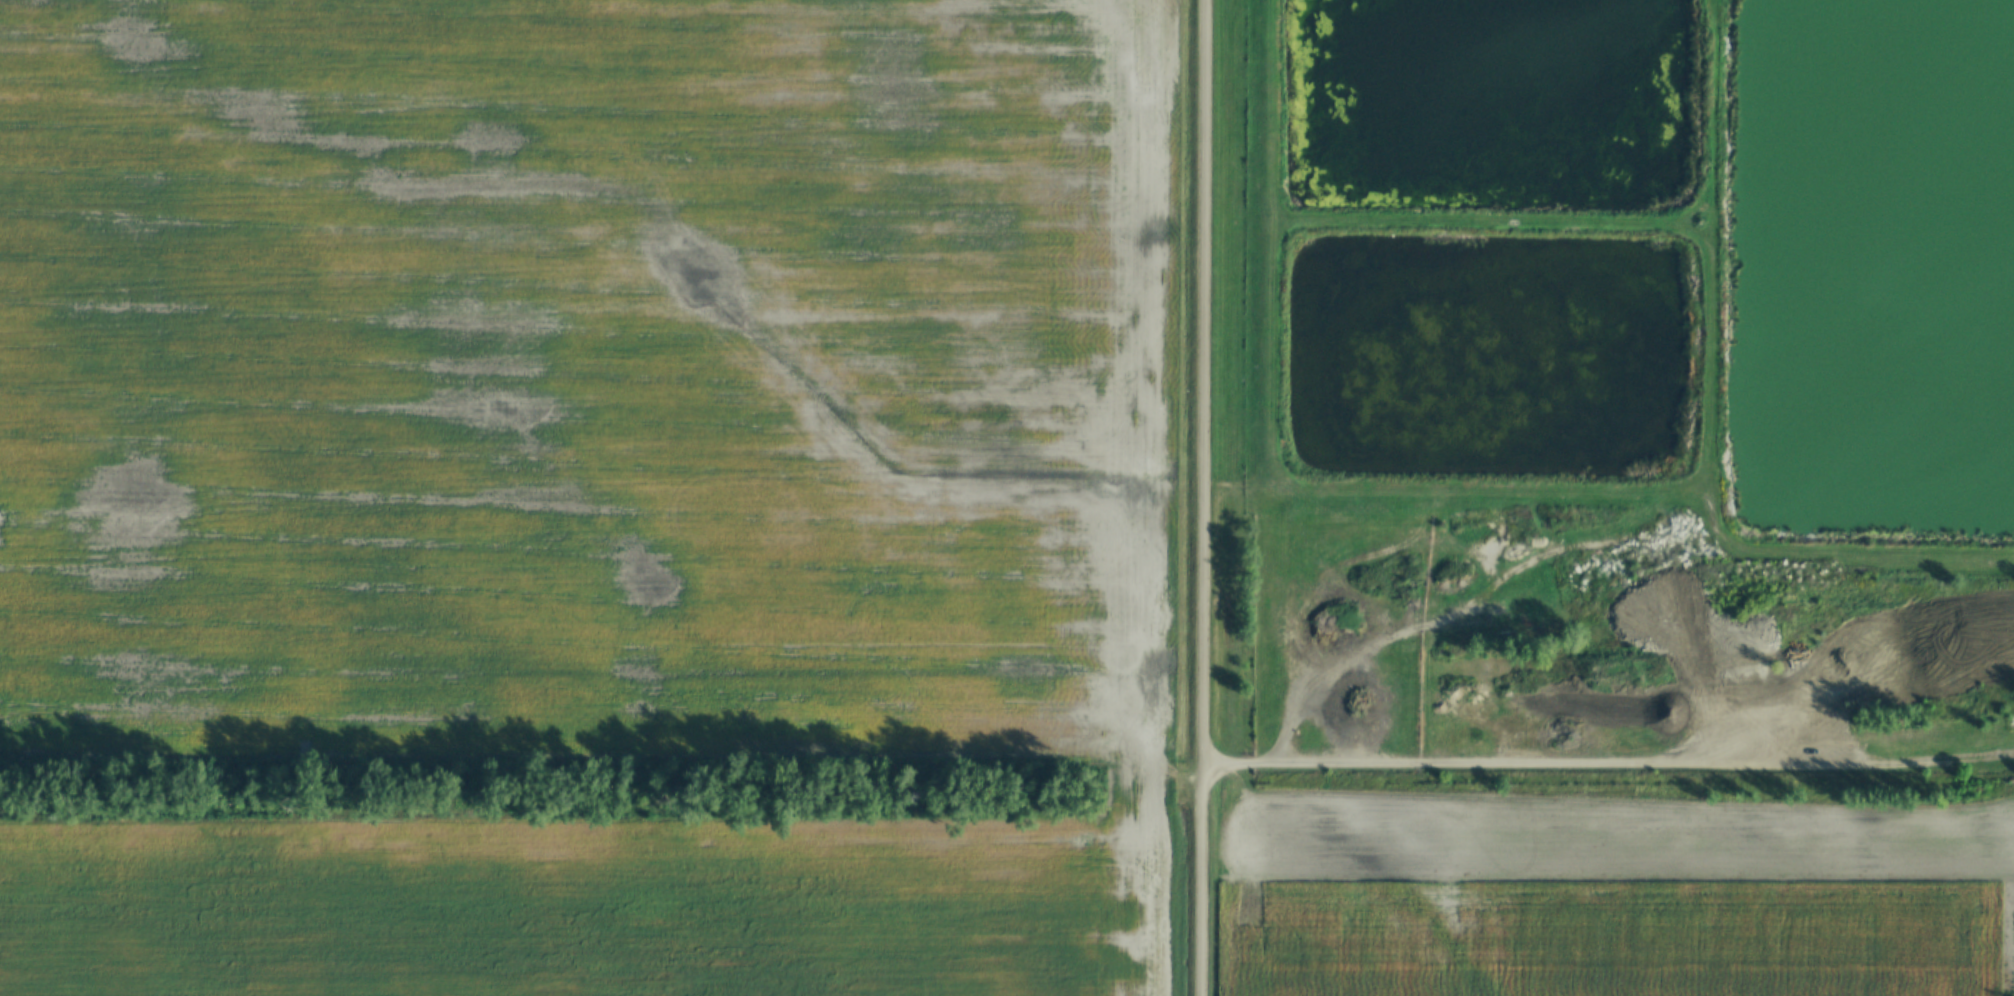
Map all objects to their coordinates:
road: (1209, 497)
road: (1337, 573)
road: (1610, 766)

